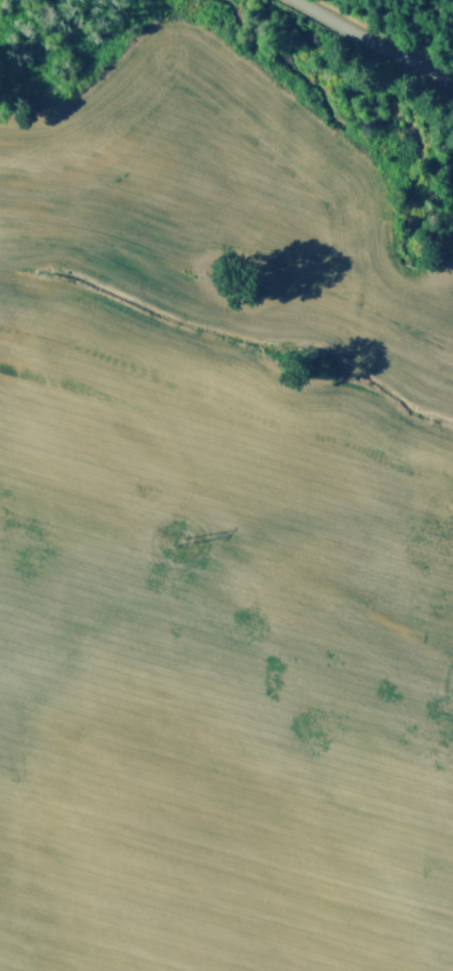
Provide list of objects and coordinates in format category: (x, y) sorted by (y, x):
road: (375, 40)
crop: (218, 539)

